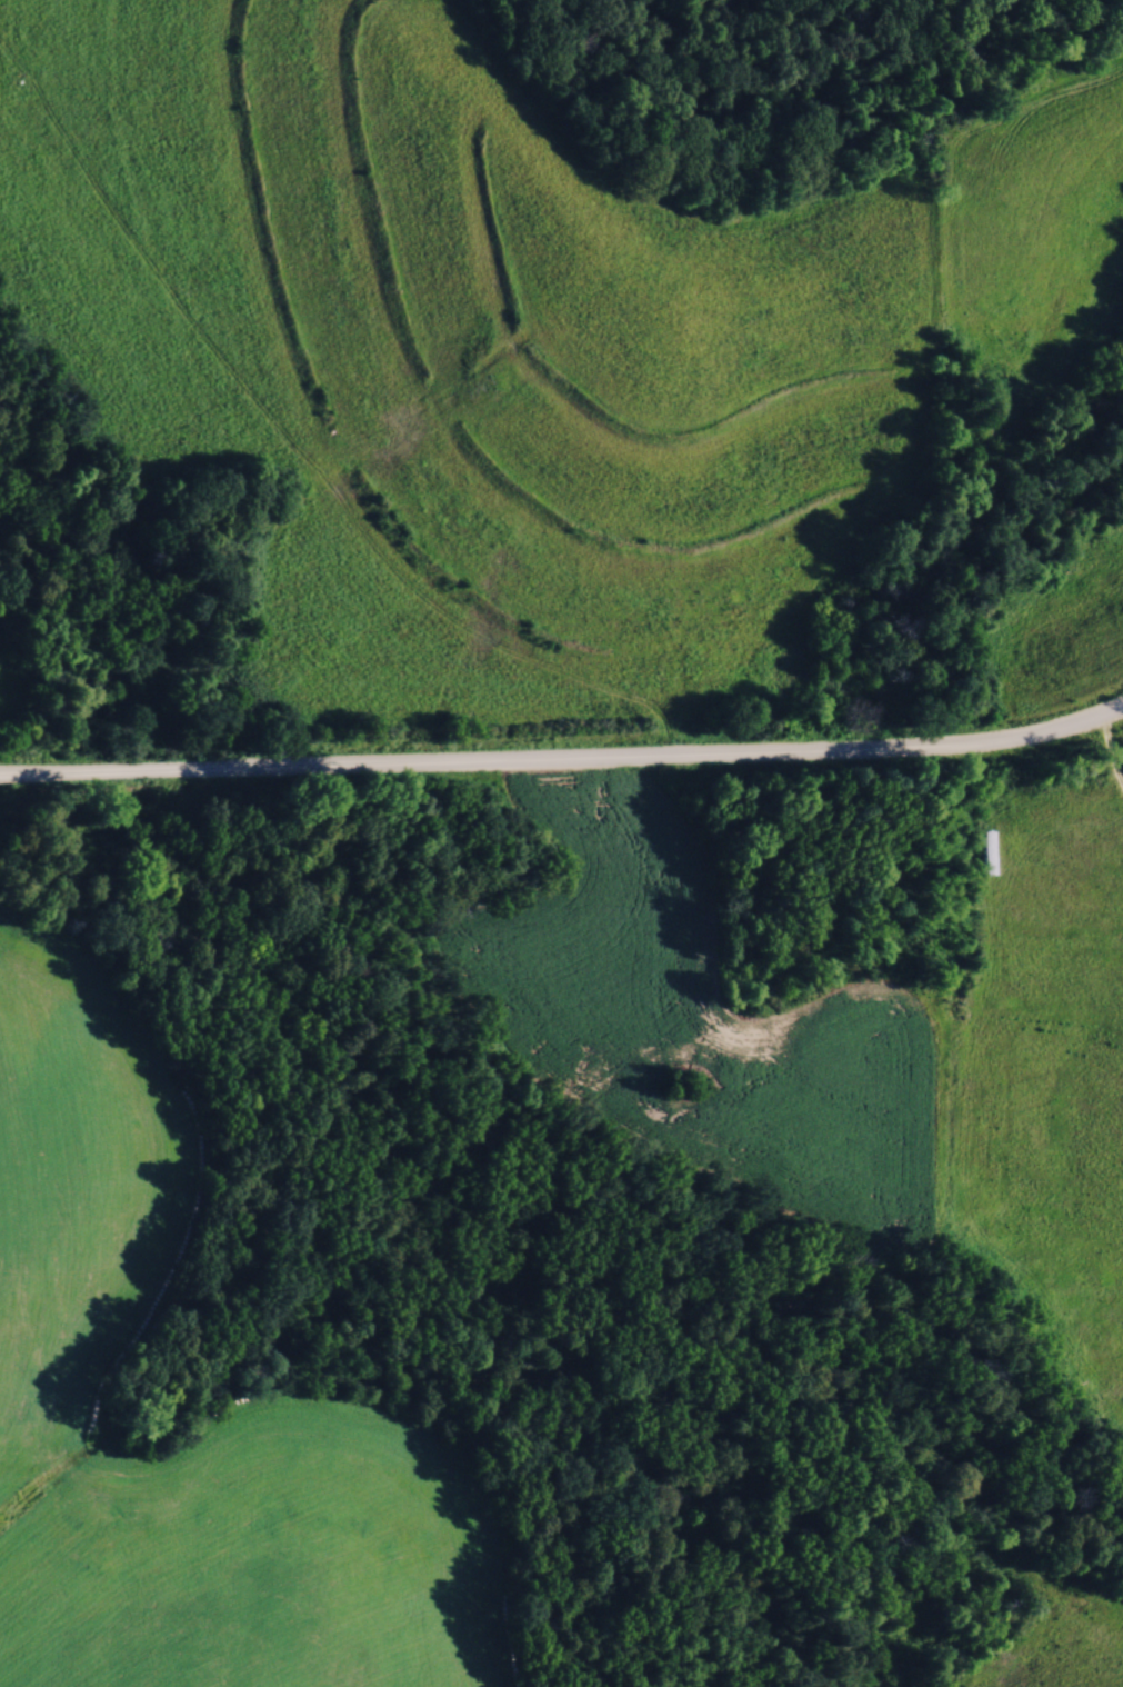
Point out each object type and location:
road: (563, 755)

